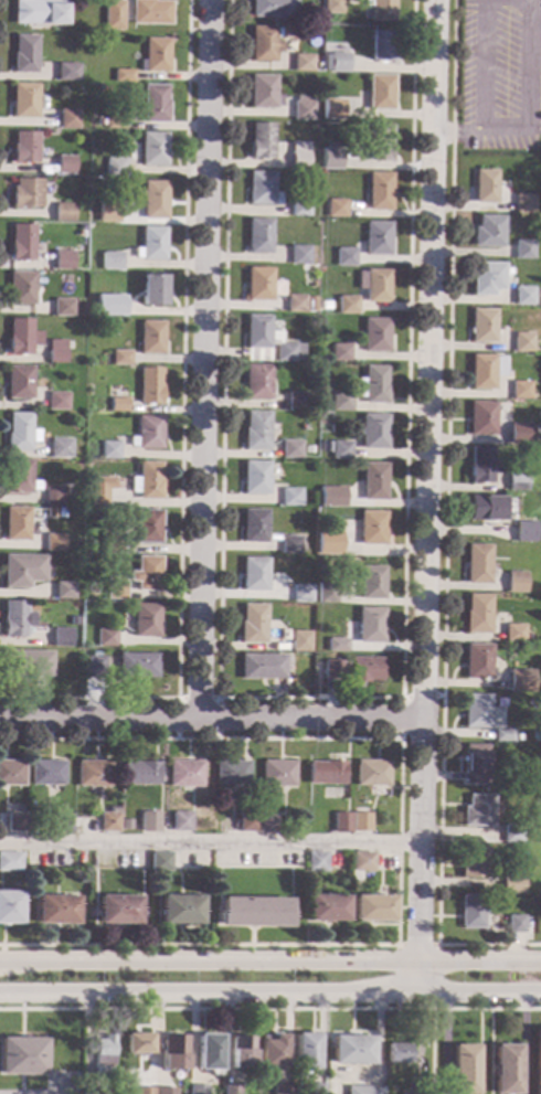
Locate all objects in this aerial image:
building: (332, 7)
building: (273, 8)
building: (381, 10)
building: (150, 12)
building: (39, 13)
building: (113, 15)
building: (263, 44)
building: (382, 46)
building: (24, 54)
building: (155, 56)
road: (533, 62)
building: (301, 63)
building: (338, 63)
building: (317, 64)
building: (66, 73)
building: (123, 75)
building: (263, 92)
building: (380, 93)
building: (24, 100)
building: (155, 104)
building: (301, 108)
building: (332, 109)
building: (67, 119)
building: (116, 123)
road: (458, 128)
road: (484, 128)
building: (261, 141)
building: (379, 144)
building: (24, 148)
building: (153, 149)
building: (298, 156)
building: (330, 159)
building: (64, 164)
building: (115, 168)
building: (486, 187)
building: (262, 189)
building: (379, 191)
building: (25, 193)
building: (152, 199)
building: (523, 203)
building: (336, 209)
building: (299, 210)
building: (62, 212)
building: (114, 216)
building: (487, 232)
building: (258, 235)
building: (376, 238)
building: (21, 243)
building: (152, 243)
building: (522, 249)
building: (299, 254)
building: (344, 257)
building: (62, 261)
building: (112, 263)
building: (539, 270)
building: (486, 278)
building: (259, 284)
building: (376, 286)
building: (21, 288)
building: (151, 290)
building: (522, 296)
building: (295, 304)
building: (310, 305)
building: (347, 305)
building: (325, 306)
building: (62, 308)
building: (113, 308)
building: (482, 326)
building: (257, 331)
building: (375, 334)
building: (21, 338)
building: (151, 338)
building: (522, 342)
building: (56, 351)
building: (286, 352)
building: (339, 353)
building: (120, 358)
road: (203, 359)
building: (485, 371)
building: (19, 382)
building: (257, 382)
building: (374, 385)
building: (150, 386)
building: (519, 391)
building: (295, 401)
building: (340, 401)
building: (56, 402)
building: (118, 405)
building: (480, 418)
building: (256, 432)
building: (372, 432)
building: (19, 433)
building: (148, 433)
building: (519, 434)
road: (180, 436)
building: (60, 448)
building: (289, 449)
building: (109, 450)
building: (339, 450)
building: (482, 465)
building: (19, 477)
building: (255, 478)
building: (147, 481)
building: (373, 481)
building: (516, 482)
building: (330, 495)
road: (425, 496)
building: (53, 497)
building: (97, 497)
building: (290, 498)
building: (70, 499)
building: (343, 500)
building: (484, 509)
building: (17, 524)
road: (444, 524)
building: (254, 525)
building: (147, 527)
building: (371, 528)
building: (523, 531)
building: (53, 543)
building: (112, 543)
building: (328, 543)
building: (289, 545)
building: (476, 564)
building: (22, 571)
building: (148, 574)
building: (254, 574)
building: (515, 582)
building: (370, 583)
building: (63, 591)
building: (116, 591)
building: (326, 593)
building: (300, 594)
building: (476, 614)
building: (15, 619)
building: (73, 620)
building: (146, 622)
building: (253, 624)
building: (369, 625)
building: (512, 633)
building: (527, 637)
building: (62, 638)
building: (106, 638)
building: (299, 642)
building: (336, 645)
building: (476, 661)
building: (26, 663)
building: (137, 666)
building: (262, 667)
building: (95, 668)
building: (353, 670)
building: (517, 681)
building: (315, 683)
road: (197, 698)
road: (308, 699)
road: (401, 699)
building: (475, 711)
road: (210, 718)
building: (501, 735)
building: (474, 764)
building: (232, 773)
building: (326, 773)
building: (371, 773)
building: (11, 774)
building: (47, 774)
building: (94, 774)
building: (139, 774)
building: (185, 774)
building: (277, 774)
building: (476, 811)
building: (181, 821)
building: (246, 821)
building: (17, 822)
building: (63, 822)
building: (109, 822)
building: (149, 822)
building: (341, 822)
building: (360, 822)
building: (267, 824)
building: (42, 826)
building: (510, 833)
road: (397, 839)
road: (209, 842)
building: (316, 861)
building: (10, 862)
building: (160, 862)
building: (361, 862)
building: (473, 862)
building: (61, 864)
building: (510, 884)
building: (326, 907)
building: (10, 909)
building: (371, 909)
building: (56, 910)
building: (118, 910)
building: (179, 911)
building: (253, 912)
building: (470, 912)
building: (513, 924)
road: (415, 945)
road: (270, 959)
road: (270, 992)
road: (223, 1009)
road: (494, 1009)
road: (445, 1043)
road: (524, 1043)
building: (136, 1044)
building: (350, 1050)
building: (270, 1051)
building: (305, 1051)
road: (431, 1051)
building: (208, 1052)
building: (173, 1053)
building: (241, 1053)
building: (397, 1053)
building: (22, 1056)
building: (104, 1056)
building: (538, 1061)
building: (464, 1070)
building: (506, 1070)
building: (280, 1088)
building: (314, 1088)
building: (91, 1090)
building: (198, 1090)
building: (231, 1090)
building: (363, 1090)
building: (145, 1091)
building: (163, 1091)

